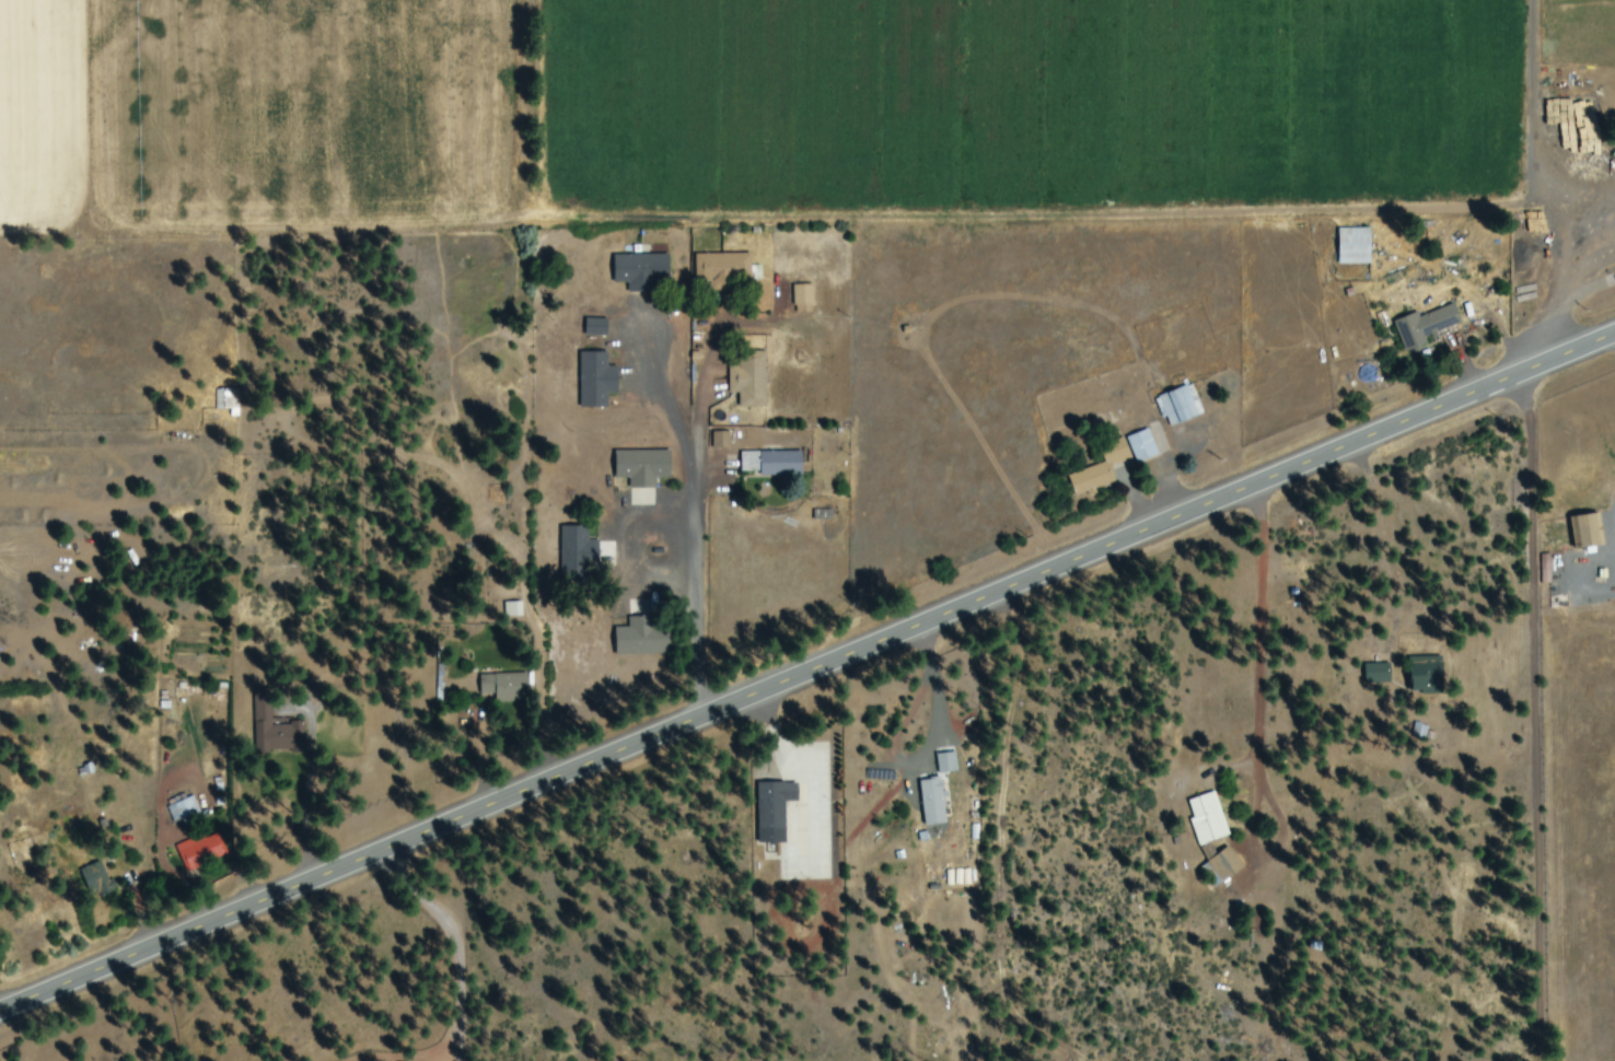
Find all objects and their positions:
road: (1536, 184)
building: (1355, 246)
building: (722, 269)
building: (641, 271)
building: (803, 299)
building: (1426, 326)
building: (596, 327)
building: (596, 380)
building: (750, 380)
building: (226, 400)
building: (1180, 405)
building: (721, 440)
building: (1142, 446)
building: (772, 463)
building: (642, 467)
building: (1101, 469)
building: (1588, 530)
building: (578, 550)
building: (637, 639)
building: (1378, 673)
building: (1427, 674)
road: (809, 675)
building: (503, 687)
road: (1251, 778)
building: (930, 804)
building: (775, 811)
building: (1207, 819)
building: (1221, 867)
building: (97, 882)

